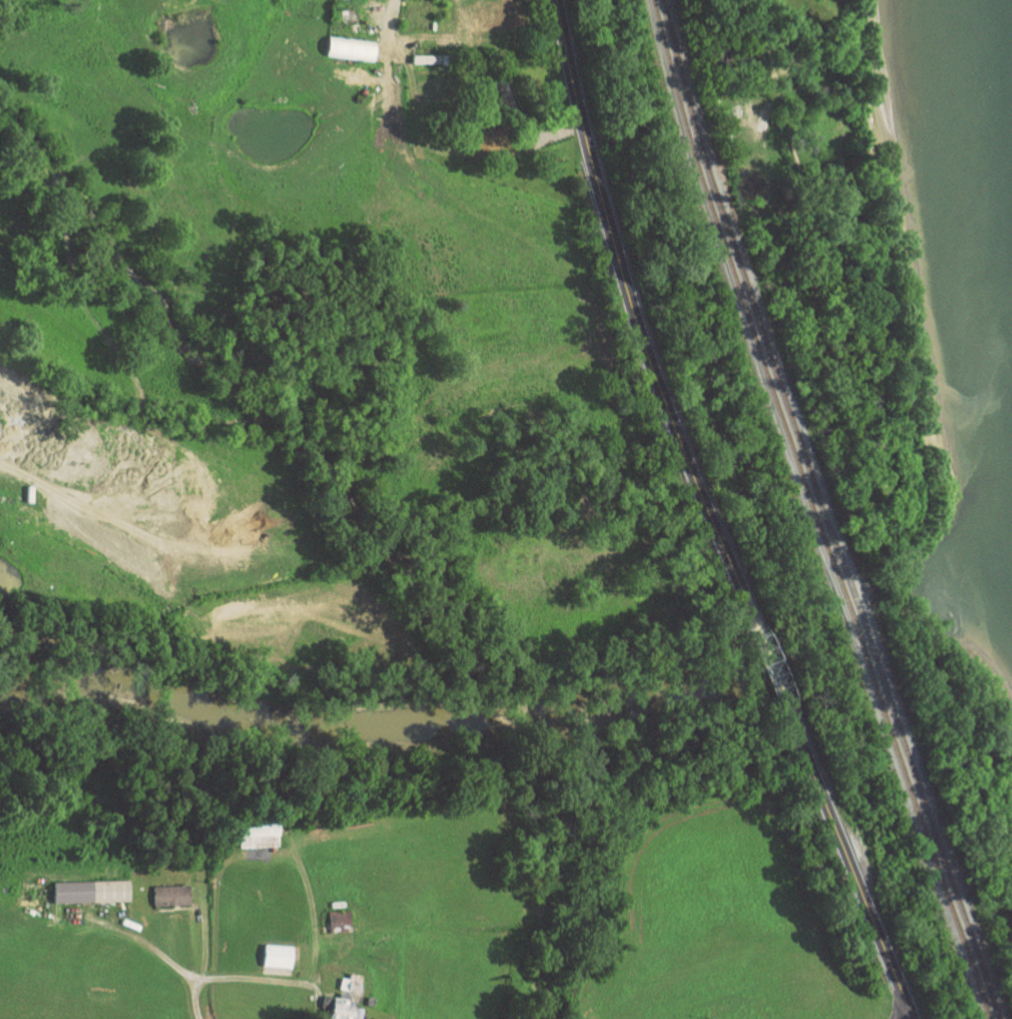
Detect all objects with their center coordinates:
road: (759, 13)
road: (390, 19)
road: (626, 303)
railway: (826, 509)
railway: (836, 509)
road: (765, 656)
road: (848, 868)
road: (161, 957)
road: (248, 979)

